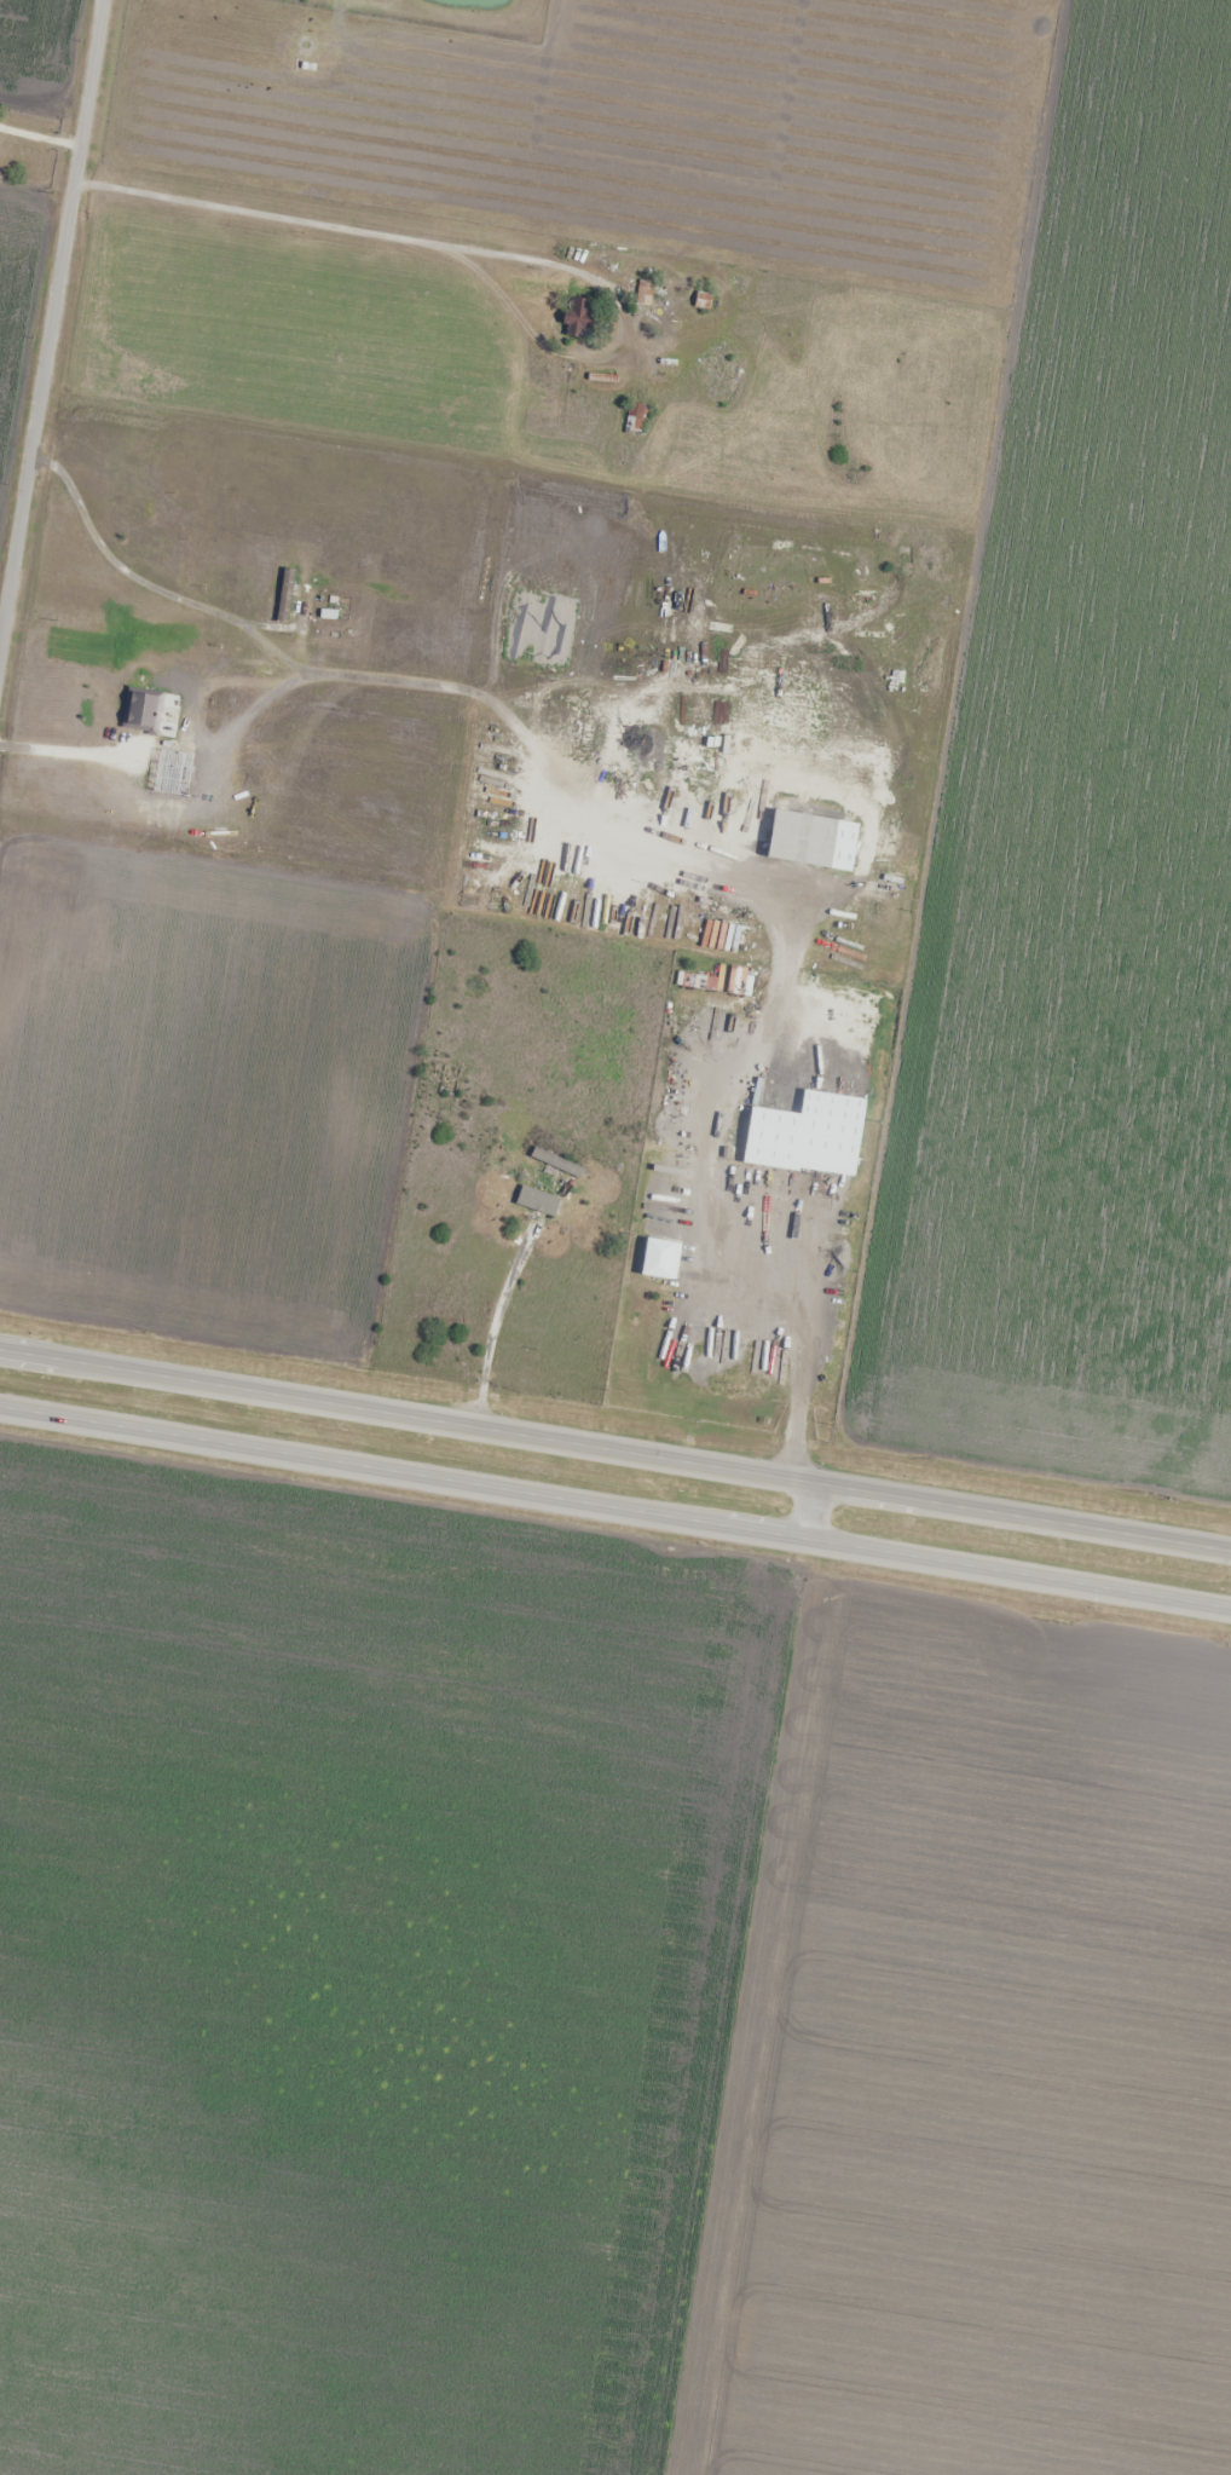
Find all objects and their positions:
building: (618, 284)
building: (643, 293)
building: (577, 316)
road: (50, 321)
building: (140, 508)
building: (831, 1135)
building: (555, 1162)
building: (659, 1317)
building: (742, 1334)
road: (615, 1450)
road: (614, 1507)
road: (810, 1511)

